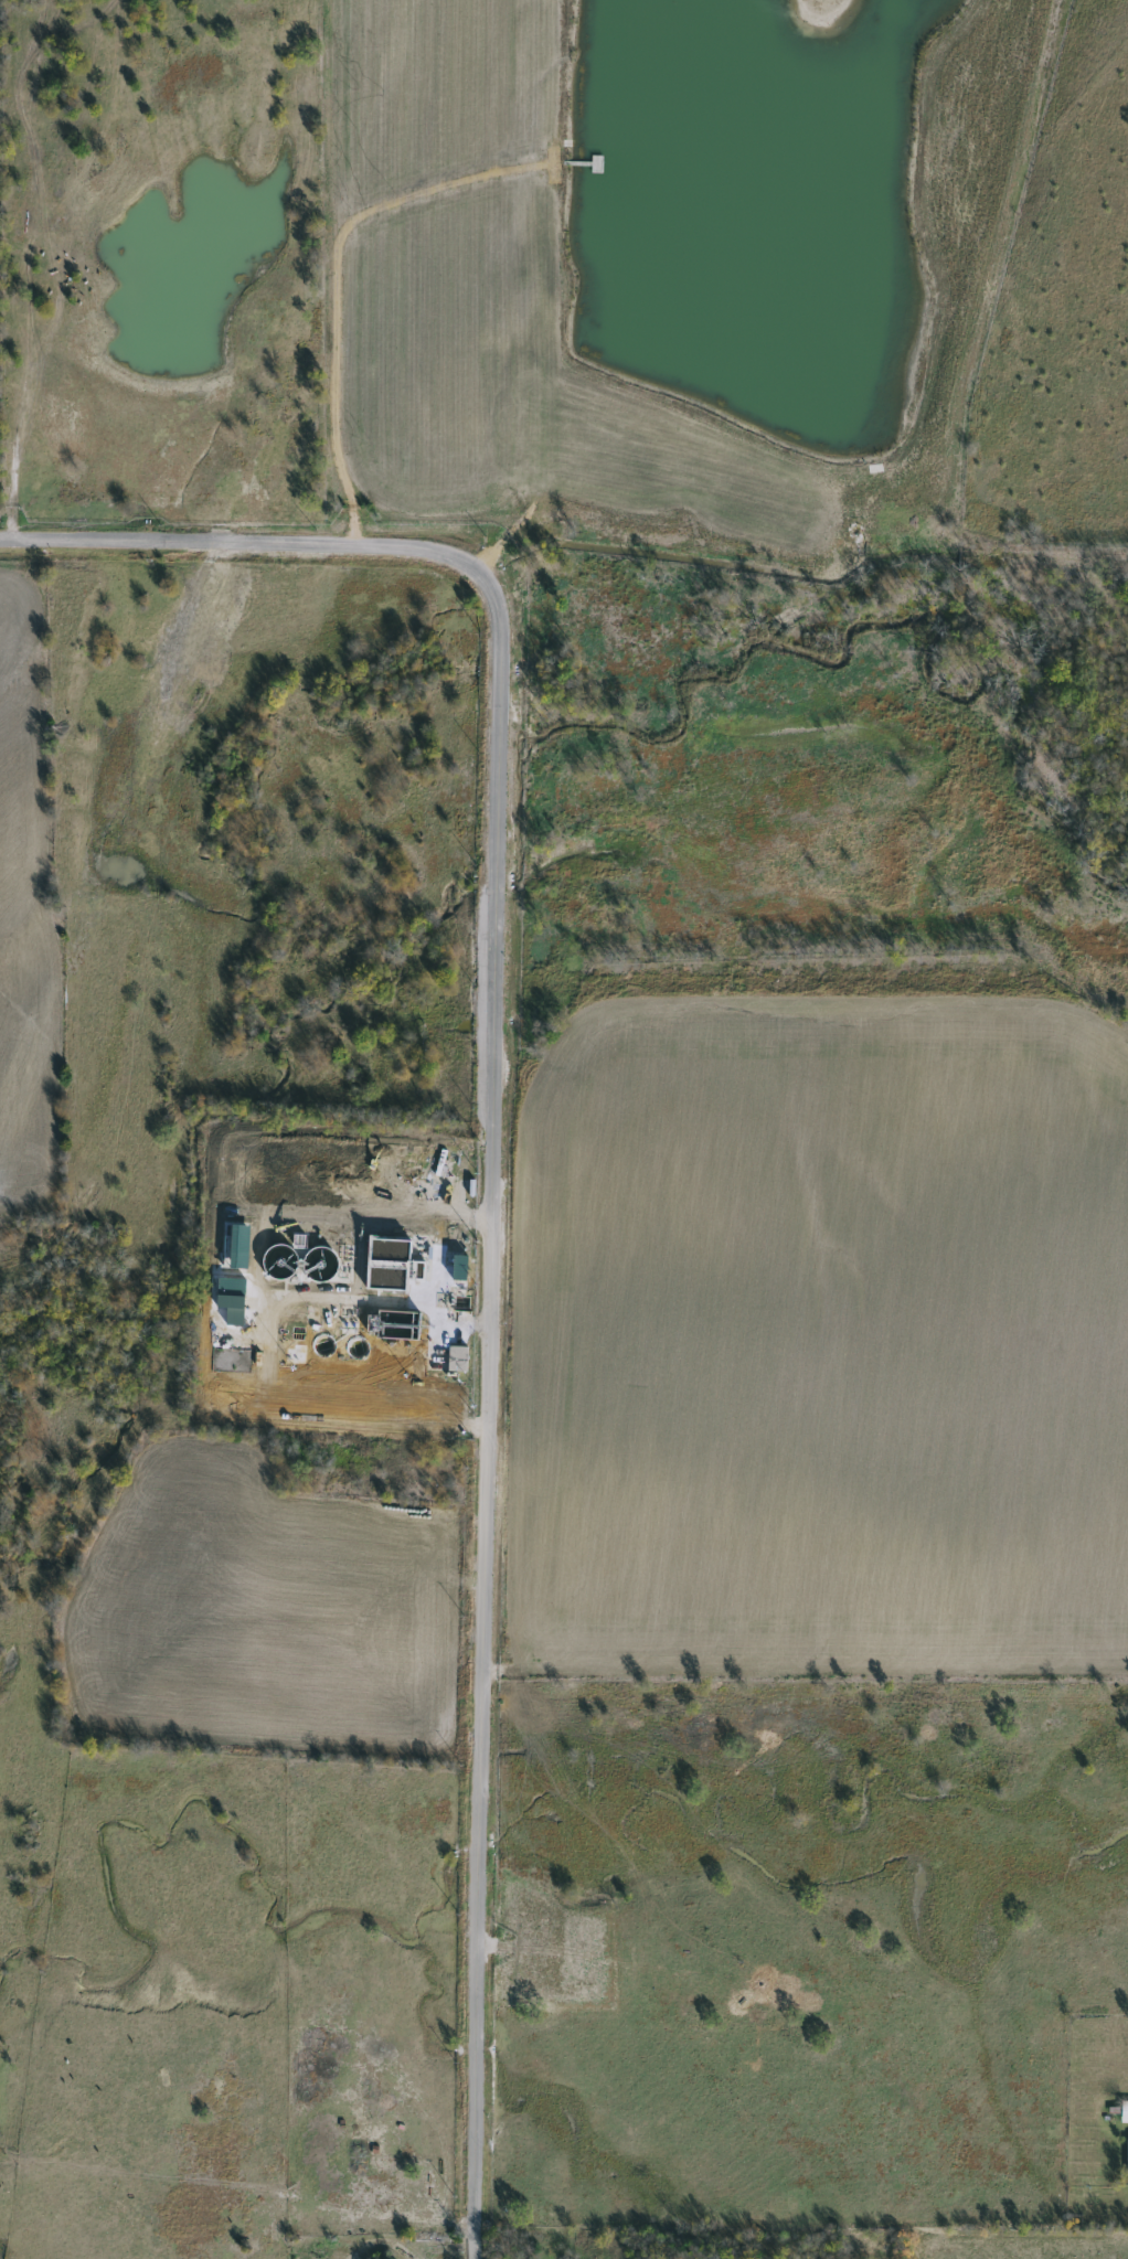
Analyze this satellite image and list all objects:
road: (491, 1155)
road: (419, 1307)
building: (455, 1358)
building: (1122, 2112)
road: (475, 2247)

